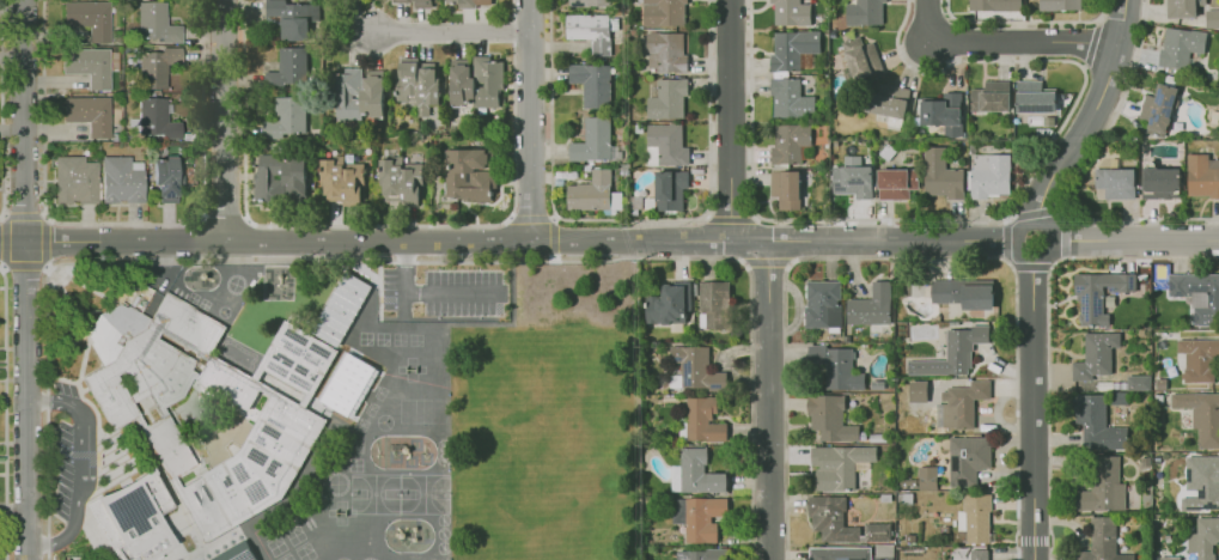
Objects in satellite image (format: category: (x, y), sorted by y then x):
building: (402, 1)
building: (587, 2)
building: (422, 4)
building: (468, 4)
building: (993, 5)
building: (1060, 5)
building: (1181, 7)
building: (663, 12)
building: (791, 12)
building: (863, 12)
building: (293, 18)
building: (90, 19)
building: (157, 23)
building: (592, 31)
road: (451, 35)
road: (1001, 43)
building: (1180, 45)
building: (127, 50)
building: (793, 50)
building: (664, 51)
building: (860, 57)
building: (89, 66)
building: (156, 67)
building: (288, 68)
building: (476, 83)
building: (593, 84)
building: (417, 85)
building: (356, 95)
building: (989, 96)
building: (1034, 97)
building: (665, 98)
building: (790, 99)
building: (890, 99)
building: (1158, 108)
road: (4, 110)
building: (941, 112)
building: (89, 114)
building: (287, 118)
building: (154, 120)
road: (224, 120)
road: (530, 120)
road: (730, 120)
building: (593, 141)
building: (788, 141)
building: (114, 145)
building: (664, 145)
building: (587, 168)
building: (940, 174)
building: (989, 175)
building: (1201, 175)
building: (483, 177)
building: (852, 177)
building: (166, 178)
building: (281, 179)
building: (77, 181)
building: (122, 181)
building: (342, 181)
building: (401, 181)
building: (1114, 182)
building: (895, 183)
building: (1160, 183)
building: (559, 184)
building: (785, 188)
building: (669, 189)
building: (595, 194)
road: (223, 215)
road: (1065, 215)
road: (24, 217)
road: (706, 217)
road: (553, 218)
road: (729, 218)
road: (511, 219)
road: (531, 219)
road: (629, 220)
road: (121, 225)
road: (378, 226)
road: (553, 237)
road: (197, 239)
road: (365, 241)
road: (879, 242)
road: (1124, 242)
road: (48, 244)
road: (898, 257)
road: (554, 258)
road: (400, 261)
road: (767, 264)
road: (25, 268)
road: (1030, 269)
road: (26, 280)
road: (425, 292)
parking lot: (445, 292)
building: (963, 292)
building: (1197, 294)
building: (1095, 296)
building: (669, 303)
building: (714, 304)
building: (821, 304)
building: (870, 305)
building: (341, 310)
park: (365, 339)
park: (382, 340)
park: (398, 340)
park: (415, 340)
building: (952, 352)
building: (1095, 355)
building: (1197, 358)
building: (695, 366)
building: (836, 366)
building: (1136, 382)
building: (349, 385)
building: (916, 390)
road: (768, 401)
building: (962, 403)
road: (6, 412)
park: (422, 412)
building: (1201, 415)
building: (828, 418)
building: (291, 419)
building: (701, 420)
park: (384, 422)
building: (1095, 422)
park: (356, 448)
building: (967, 457)
building: (837, 464)
park: (355, 465)
road: (81, 469)
building: (694, 473)
building: (926, 477)
building: (1201, 482)
building: (1102, 486)
park: (374, 494)
park: (423, 494)
road: (13, 510)
building: (677, 513)
building: (974, 517)
building: (702, 518)
building: (830, 518)
building: (134, 519)
building: (876, 531)
park: (294, 535)
building: (1203, 537)
building: (1101, 541)
park: (276, 547)
building: (883, 552)
building: (237, 553)
park: (305, 553)
building: (839, 553)
building: (700, 554)
building: (979, 554)
park: (288, 558)
building: (1168, 558)

